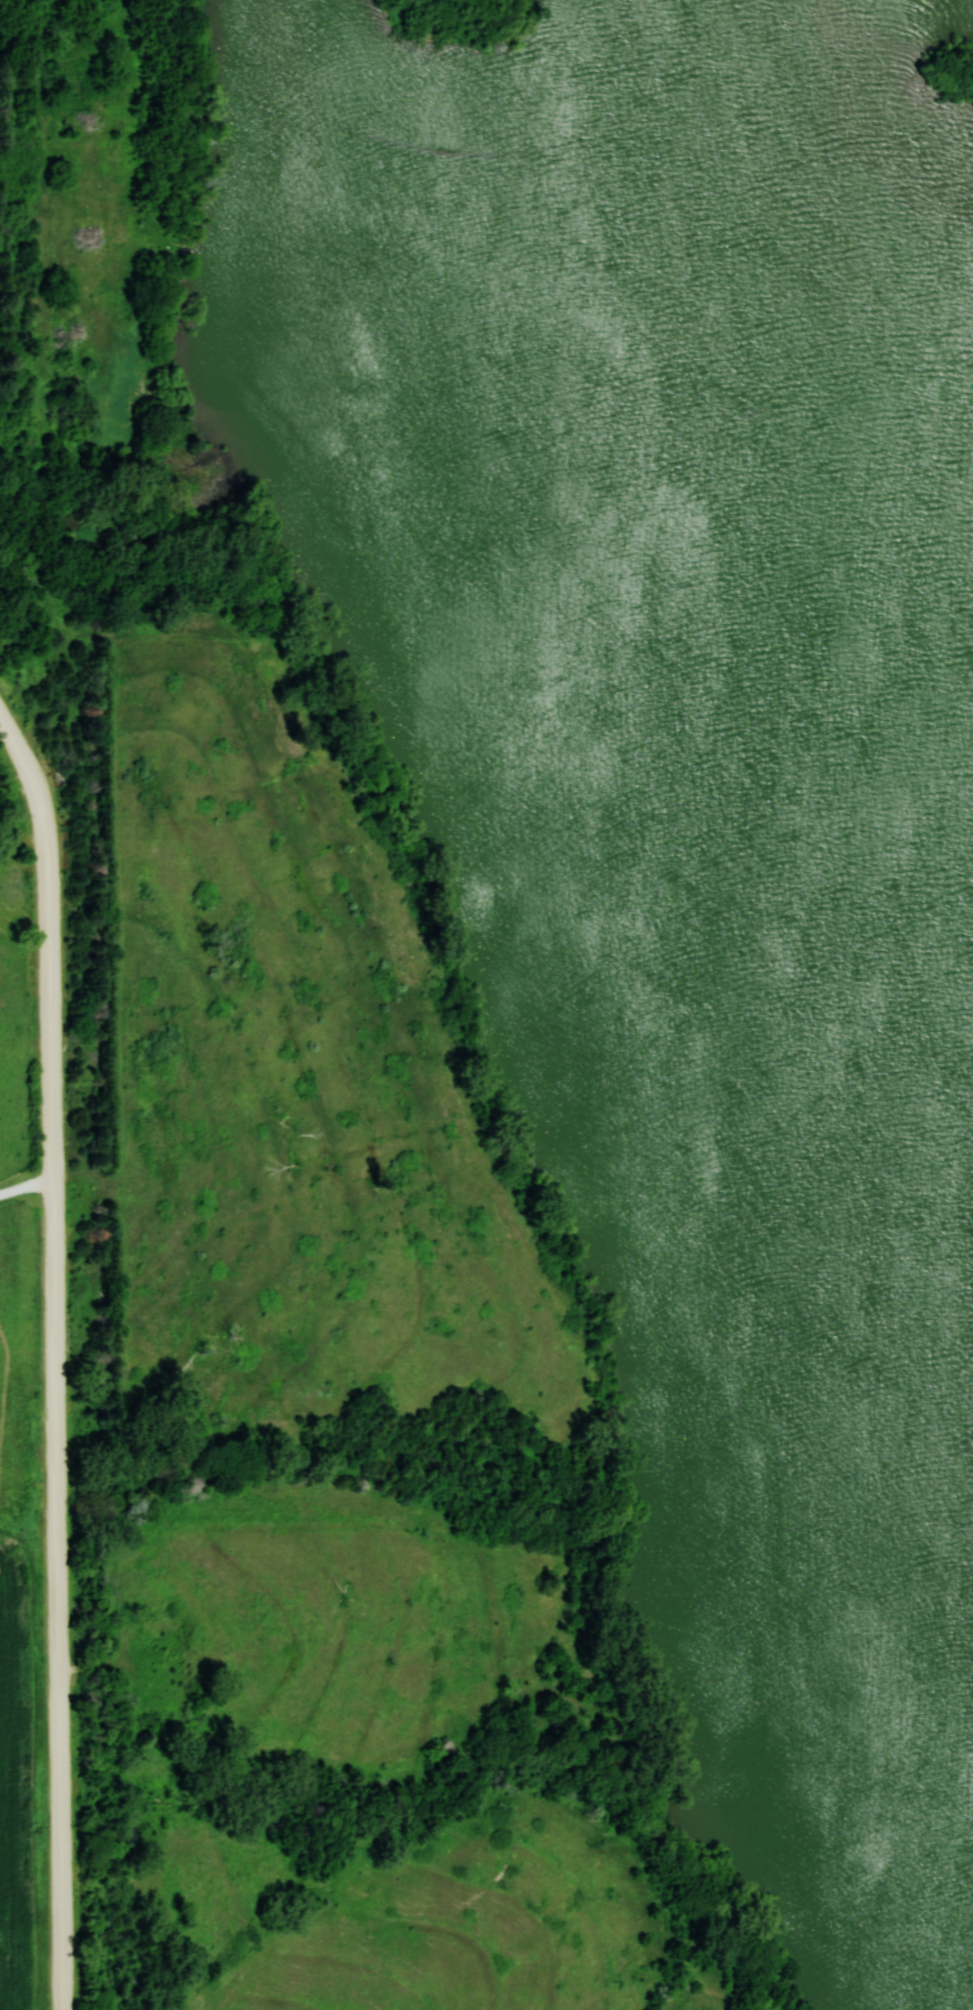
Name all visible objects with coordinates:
road: (32, 784)
park: (678, 796)
road: (53, 1430)

